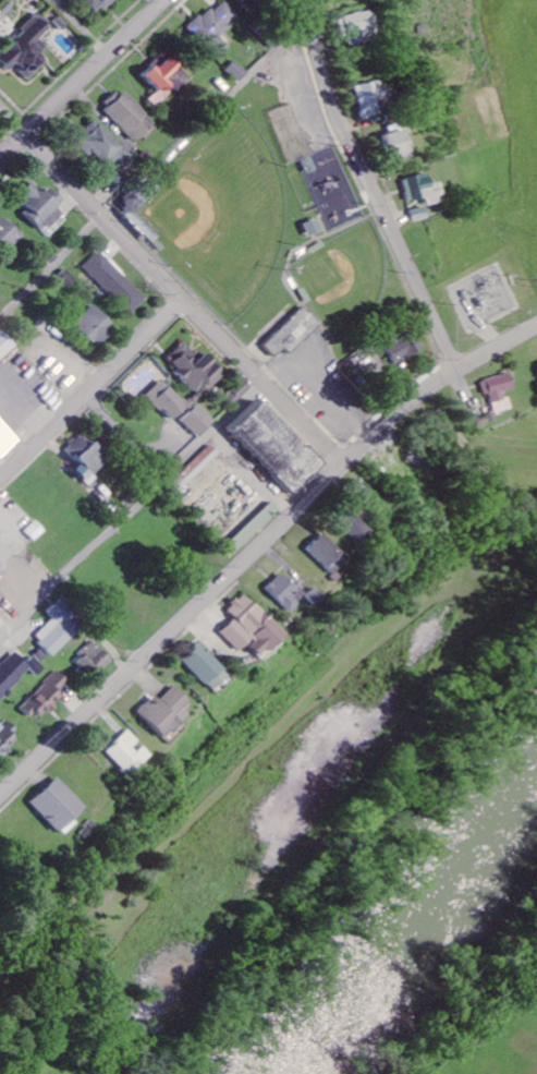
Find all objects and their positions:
building: (251, 3)
building: (99, 4)
building: (217, 27)
building: (357, 27)
building: (29, 49)
building: (240, 72)
building: (167, 77)
road: (83, 79)
building: (370, 98)
building: (131, 114)
building: (394, 145)
building: (108, 153)
road: (373, 190)
building: (420, 190)
building: (44, 208)
park: (225, 216)
building: (313, 227)
building: (9, 234)
park: (278, 239)
building: (0, 276)
building: (69, 278)
building: (118, 282)
park: (346, 283)
road: (170, 285)
building: (97, 326)
building: (295, 339)
building: (5, 345)
building: (403, 346)
building: (369, 363)
building: (196, 367)
road: (91, 387)
building: (499, 390)
building: (169, 400)
building: (199, 421)
building: (8, 441)
building: (279, 446)
building: (87, 457)
building: (197, 469)
road: (131, 511)
building: (252, 528)
building: (353, 528)
road: (255, 547)
building: (4, 553)
building: (325, 554)
building: (282, 592)
building: (312, 596)
building: (60, 628)
building: (249, 628)
building: (0, 631)
building: (94, 659)
building: (205, 667)
building: (16, 673)
building: (47, 697)
building: (163, 712)
building: (7, 736)
building: (127, 753)
building: (59, 807)
river: (416, 931)

